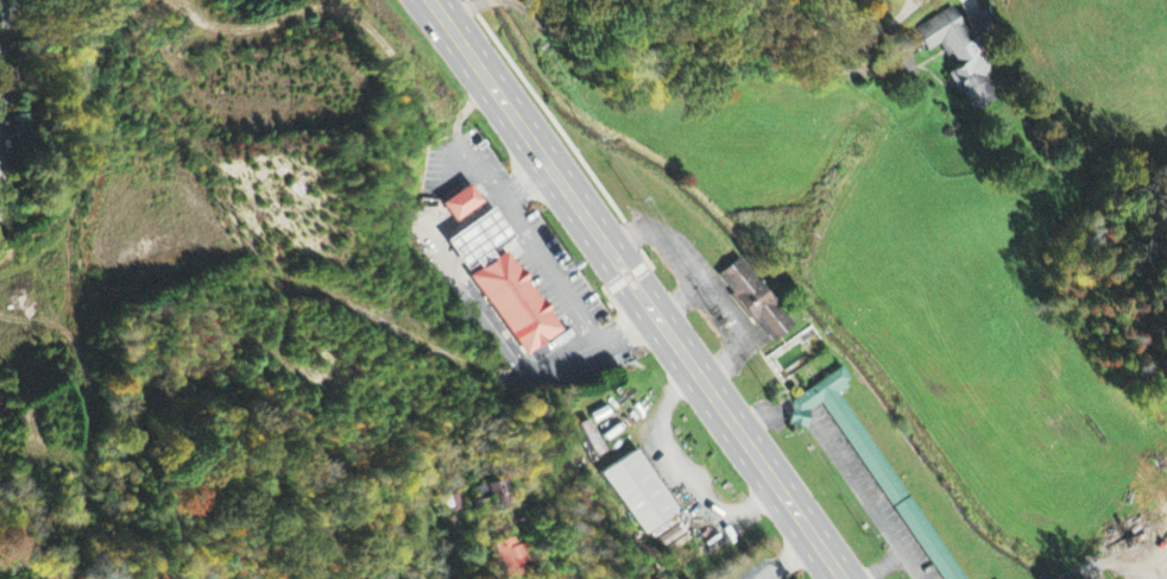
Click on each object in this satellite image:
road: (491, 0)
road: (463, 8)
building: (980, 27)
building: (961, 59)
road: (706, 61)
building: (19, 128)
building: (461, 206)
road: (65, 259)
building: (503, 285)
road: (633, 290)
building: (755, 303)
building: (872, 464)
building: (641, 493)
building: (492, 497)
building: (513, 559)
road: (1092, 569)
road: (1075, 578)

